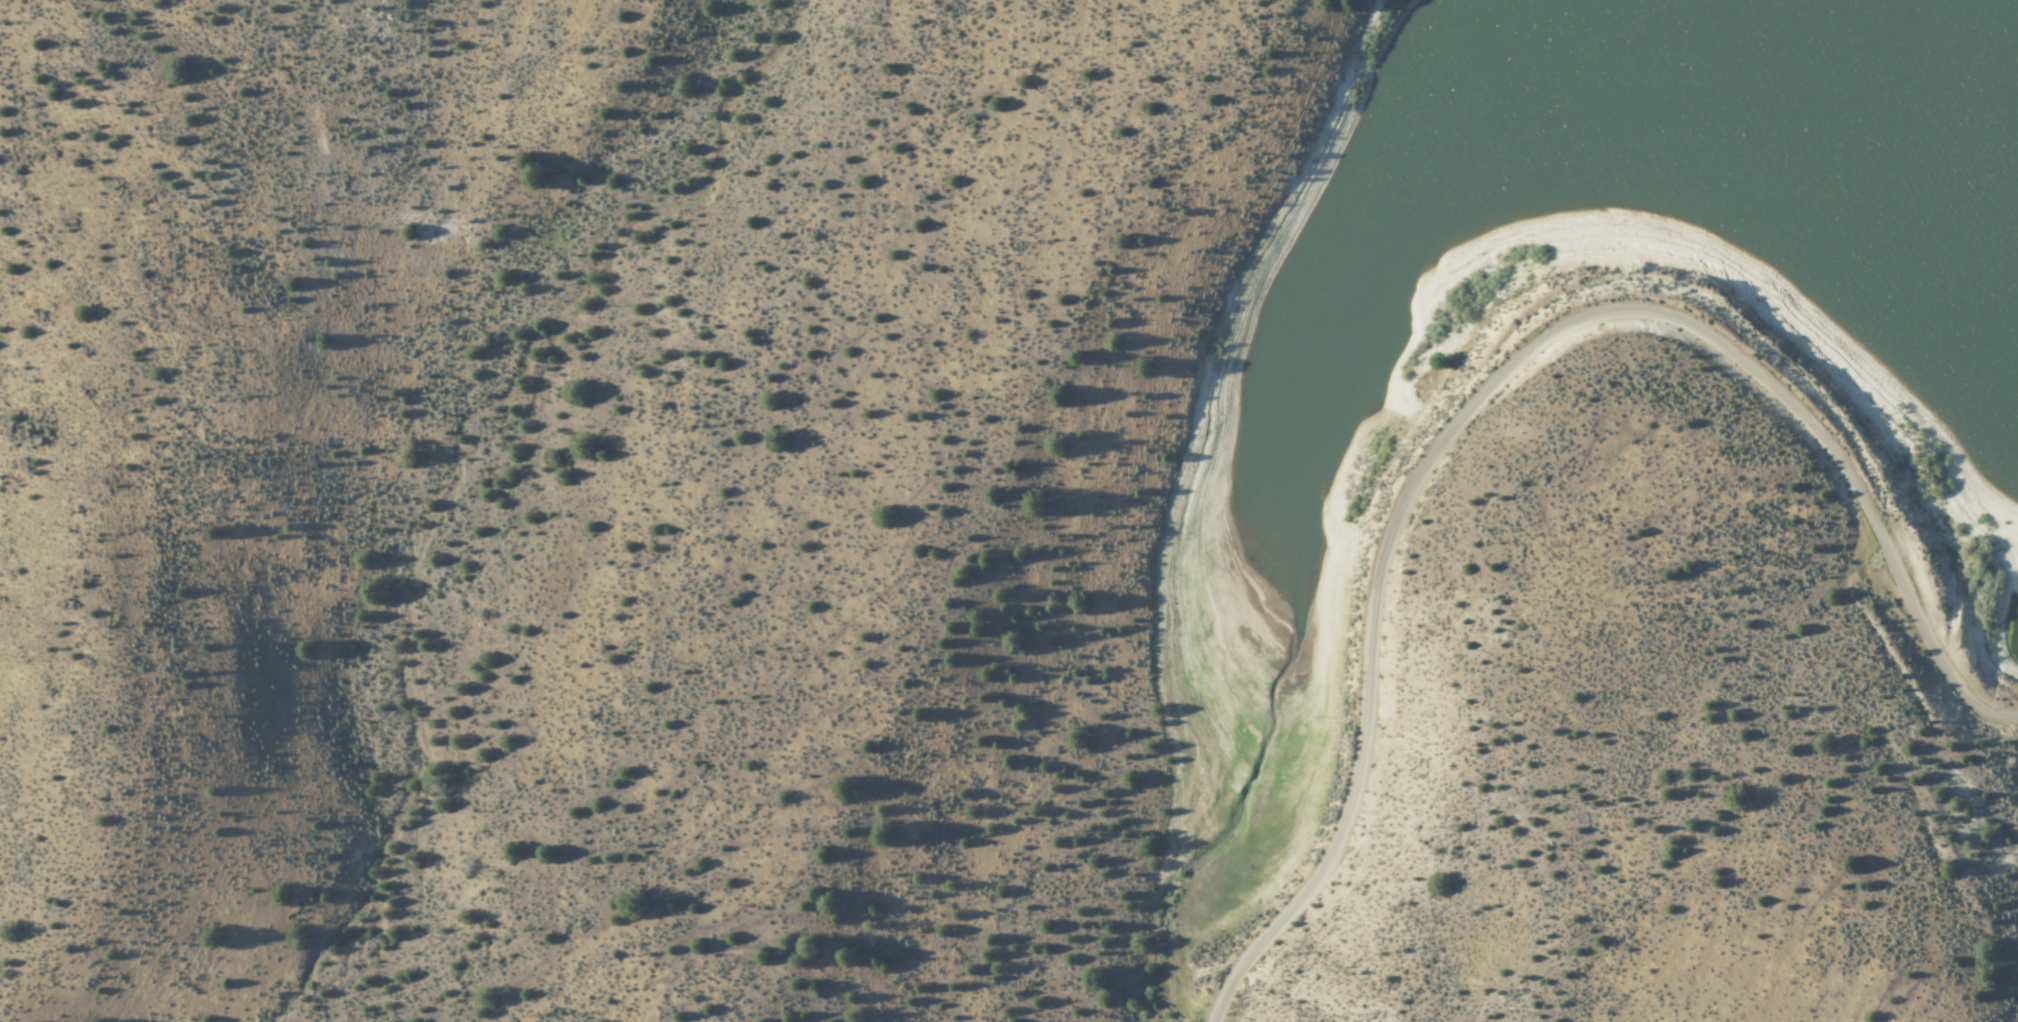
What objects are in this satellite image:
road: (1503, 362)
river: (2009, 603)

